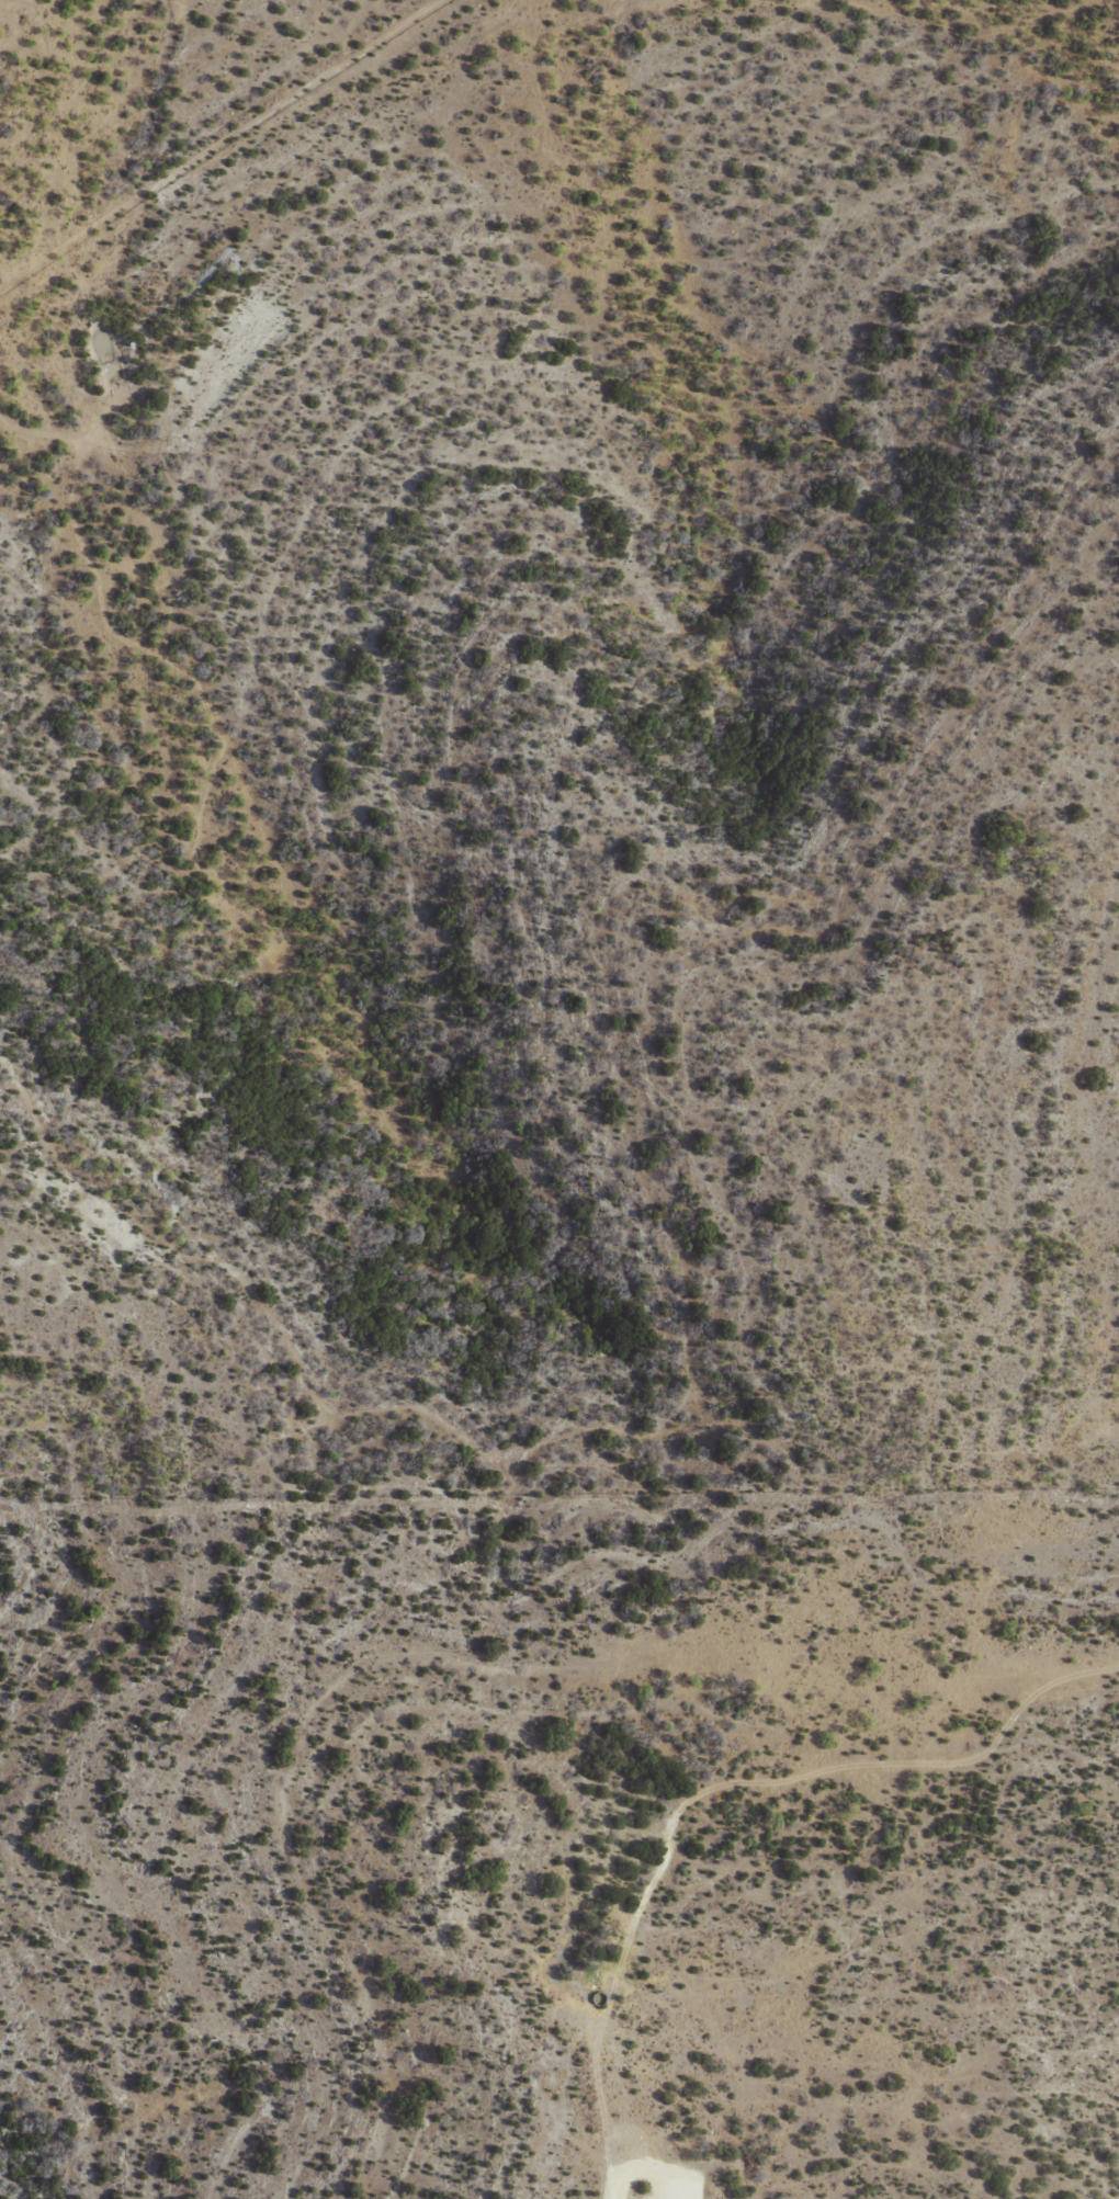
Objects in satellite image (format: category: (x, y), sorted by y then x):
road: (561, 2170)

